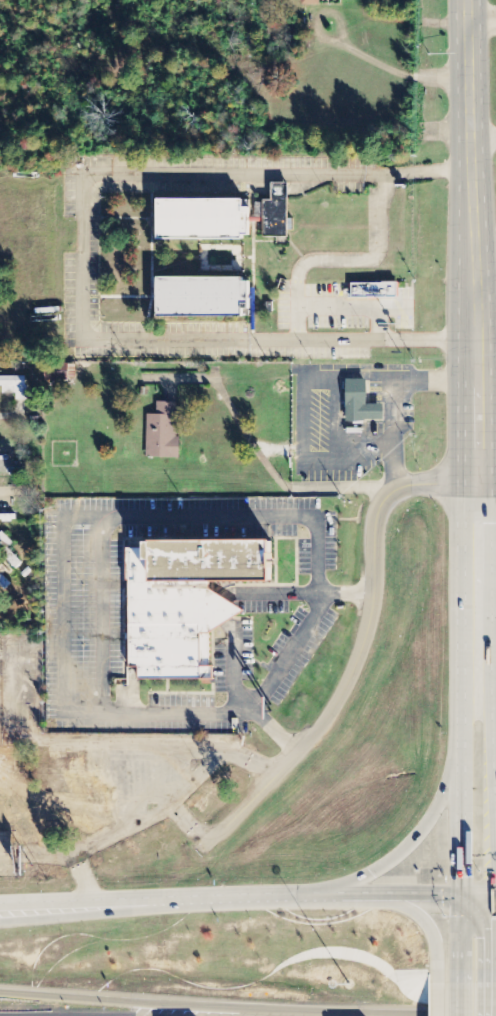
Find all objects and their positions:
building: (311, 2)
road: (482, 21)
road: (470, 138)
building: (276, 212)
building: (203, 220)
road: (84, 261)
road: (484, 278)
building: (372, 289)
building: (203, 297)
road: (473, 377)
building: (14, 387)
building: (363, 402)
building: (163, 433)
road: (485, 478)
building: (8, 552)
building: (4, 583)
building: (186, 604)
road: (462, 609)
road: (360, 650)
road: (494, 695)
road: (492, 721)
road: (462, 818)
road: (127, 828)
road: (412, 840)
road: (40, 853)
road: (391, 894)
traffic signals: (464, 894)
road: (480, 894)
traffic signals: (493, 894)
road: (265, 895)
road: (105, 899)
road: (105, 906)
road: (425, 916)
road: (463, 931)
street lamp: (346, 983)
road: (447, 992)
road: (462, 992)
road: (494, 992)
road: (153, 1001)

